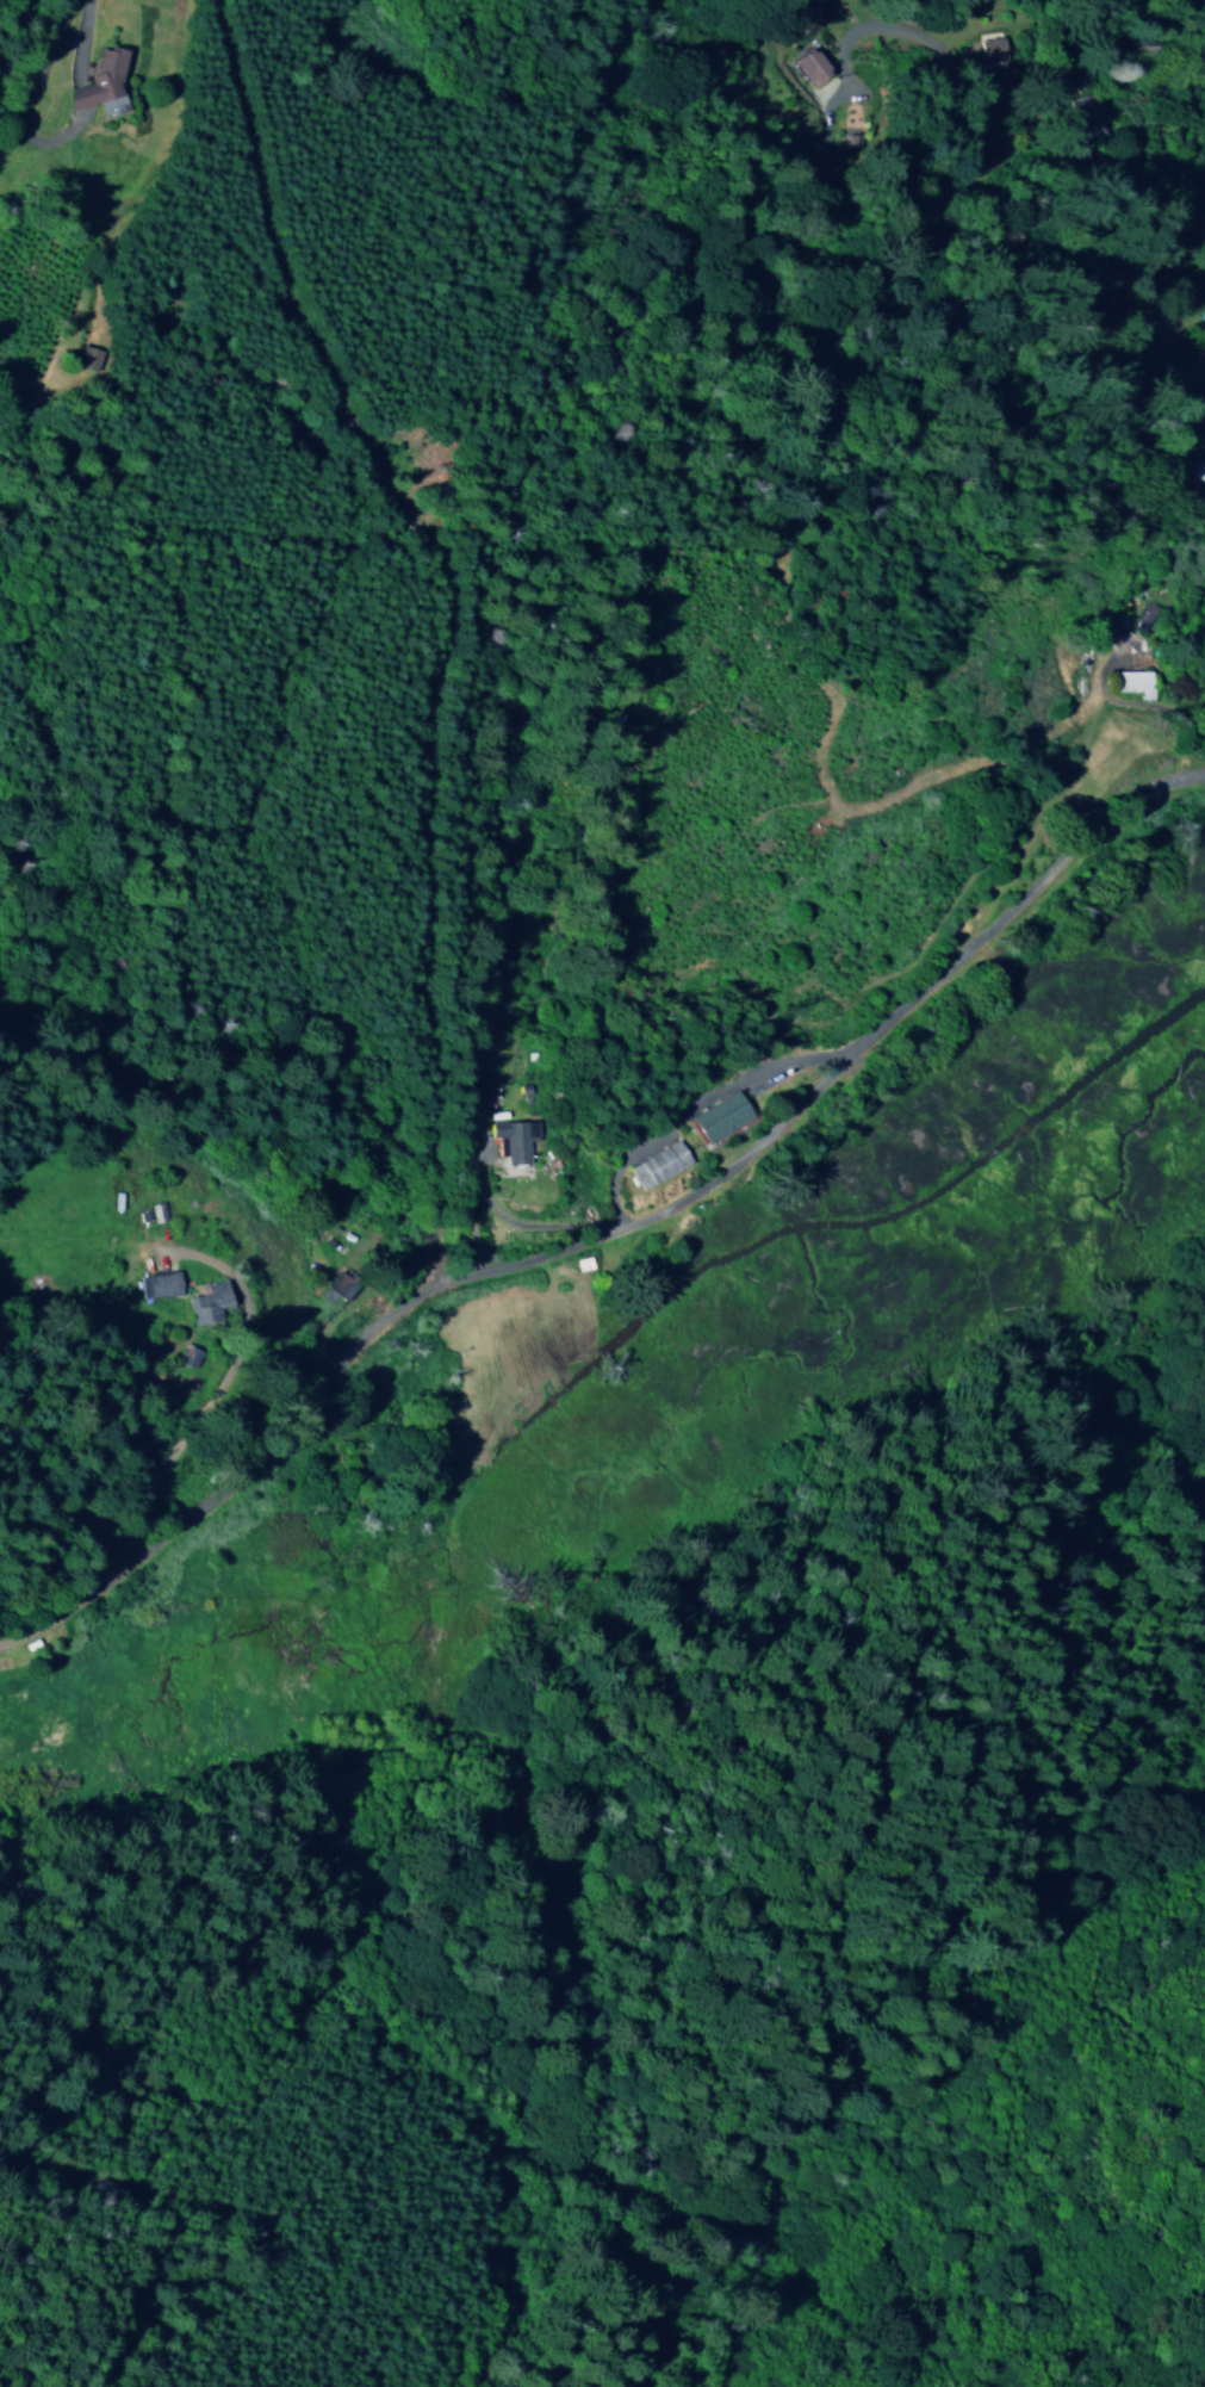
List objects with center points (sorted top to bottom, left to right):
road: (80, 39)
building: (988, 51)
building: (807, 69)
building: (100, 74)
road: (676, 89)
road: (81, 91)
road: (24, 98)
road: (1066, 163)
building: (1197, 471)
road: (449, 614)
building: (1139, 616)
building: (1128, 683)
building: (714, 1117)
building: (508, 1140)
building: (653, 1166)
road: (613, 1226)
building: (154, 1285)
building: (336, 1286)
building: (203, 1303)

